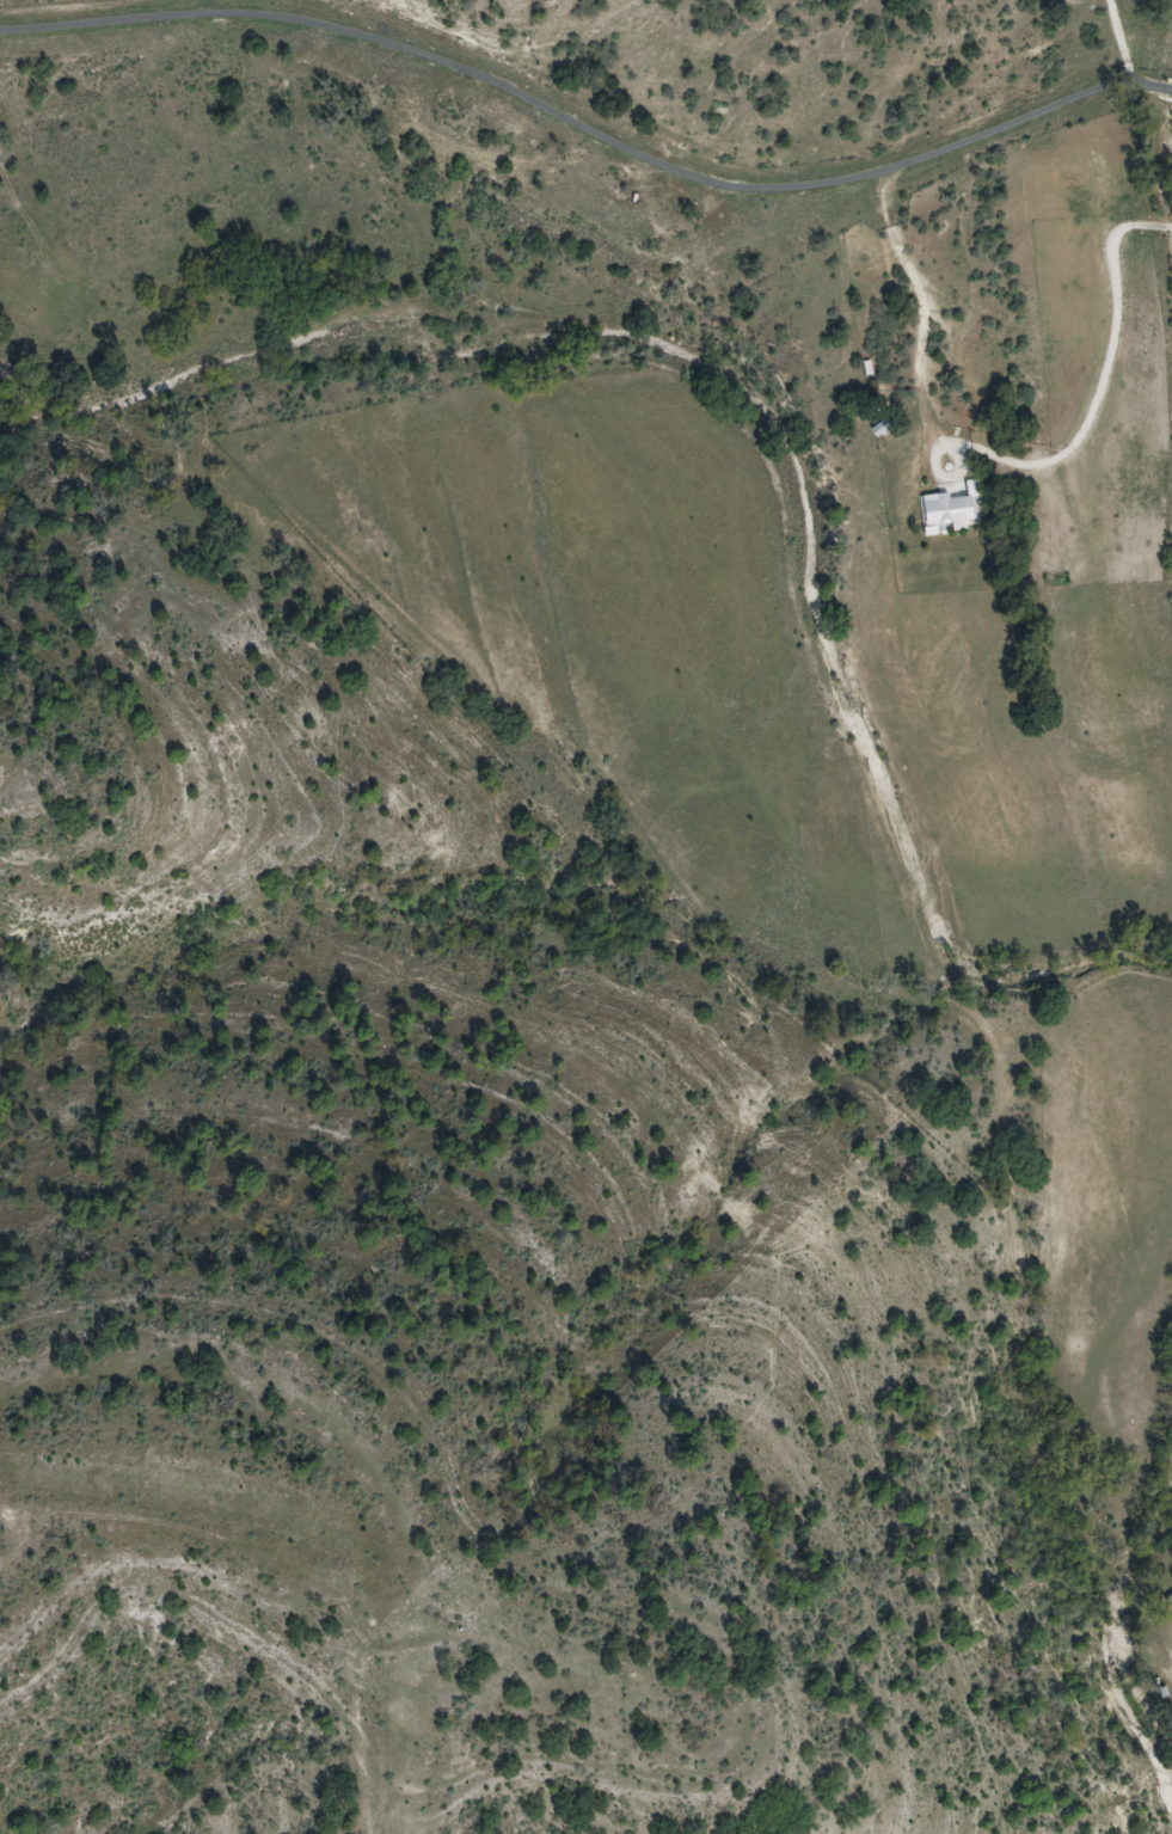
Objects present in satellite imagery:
road: (50, 4)
road: (751, 176)
road: (1109, 379)
building: (955, 511)

